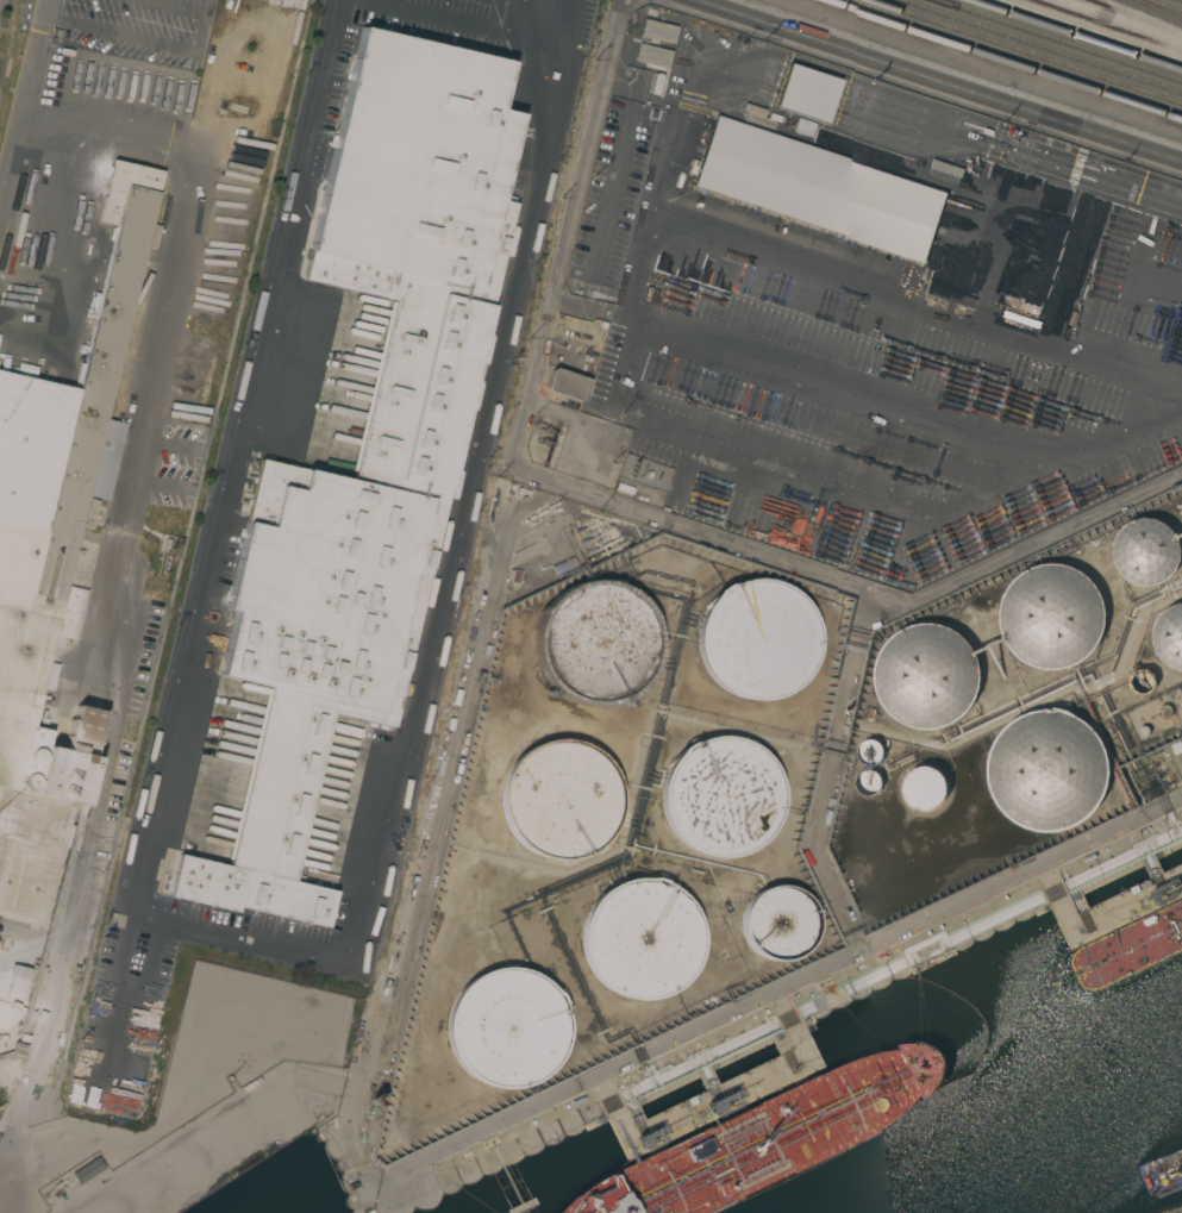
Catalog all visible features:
railway: (1181, 0)
railway: (1162, 6)
road: (205, 8)
railway: (1157, 10)
road: (190, 13)
railway: (1105, 24)
road: (471, 27)
building: (657, 31)
road: (119, 33)
railway: (1076, 35)
railway: (1058, 40)
railway: (1043, 45)
railway: (10, 49)
railway: (1025, 51)
building: (651, 56)
railway: (1002, 60)
road: (934, 80)
building: (805, 94)
road: (23, 99)
building: (802, 127)
building: (819, 189)
road: (70, 268)
road: (158, 339)
road: (257, 359)
building: (567, 384)
road: (512, 437)
building: (365, 444)
road: (1046, 537)
building: (1146, 551)
building: (54, 564)
building: (563, 565)
building: (1052, 615)
building: (1169, 636)
building: (756, 639)
building: (596, 643)
building: (136, 659)
road: (418, 668)
building: (927, 675)
building: (1143, 681)
building: (870, 751)
building: (1049, 769)
building: (869, 781)
building: (925, 787)
building: (719, 796)
building: (559, 800)
building: (777, 924)
building: (639, 939)
building: (17, 987)
building: (505, 1028)
building: (17, 1051)
building: (88, 1170)

